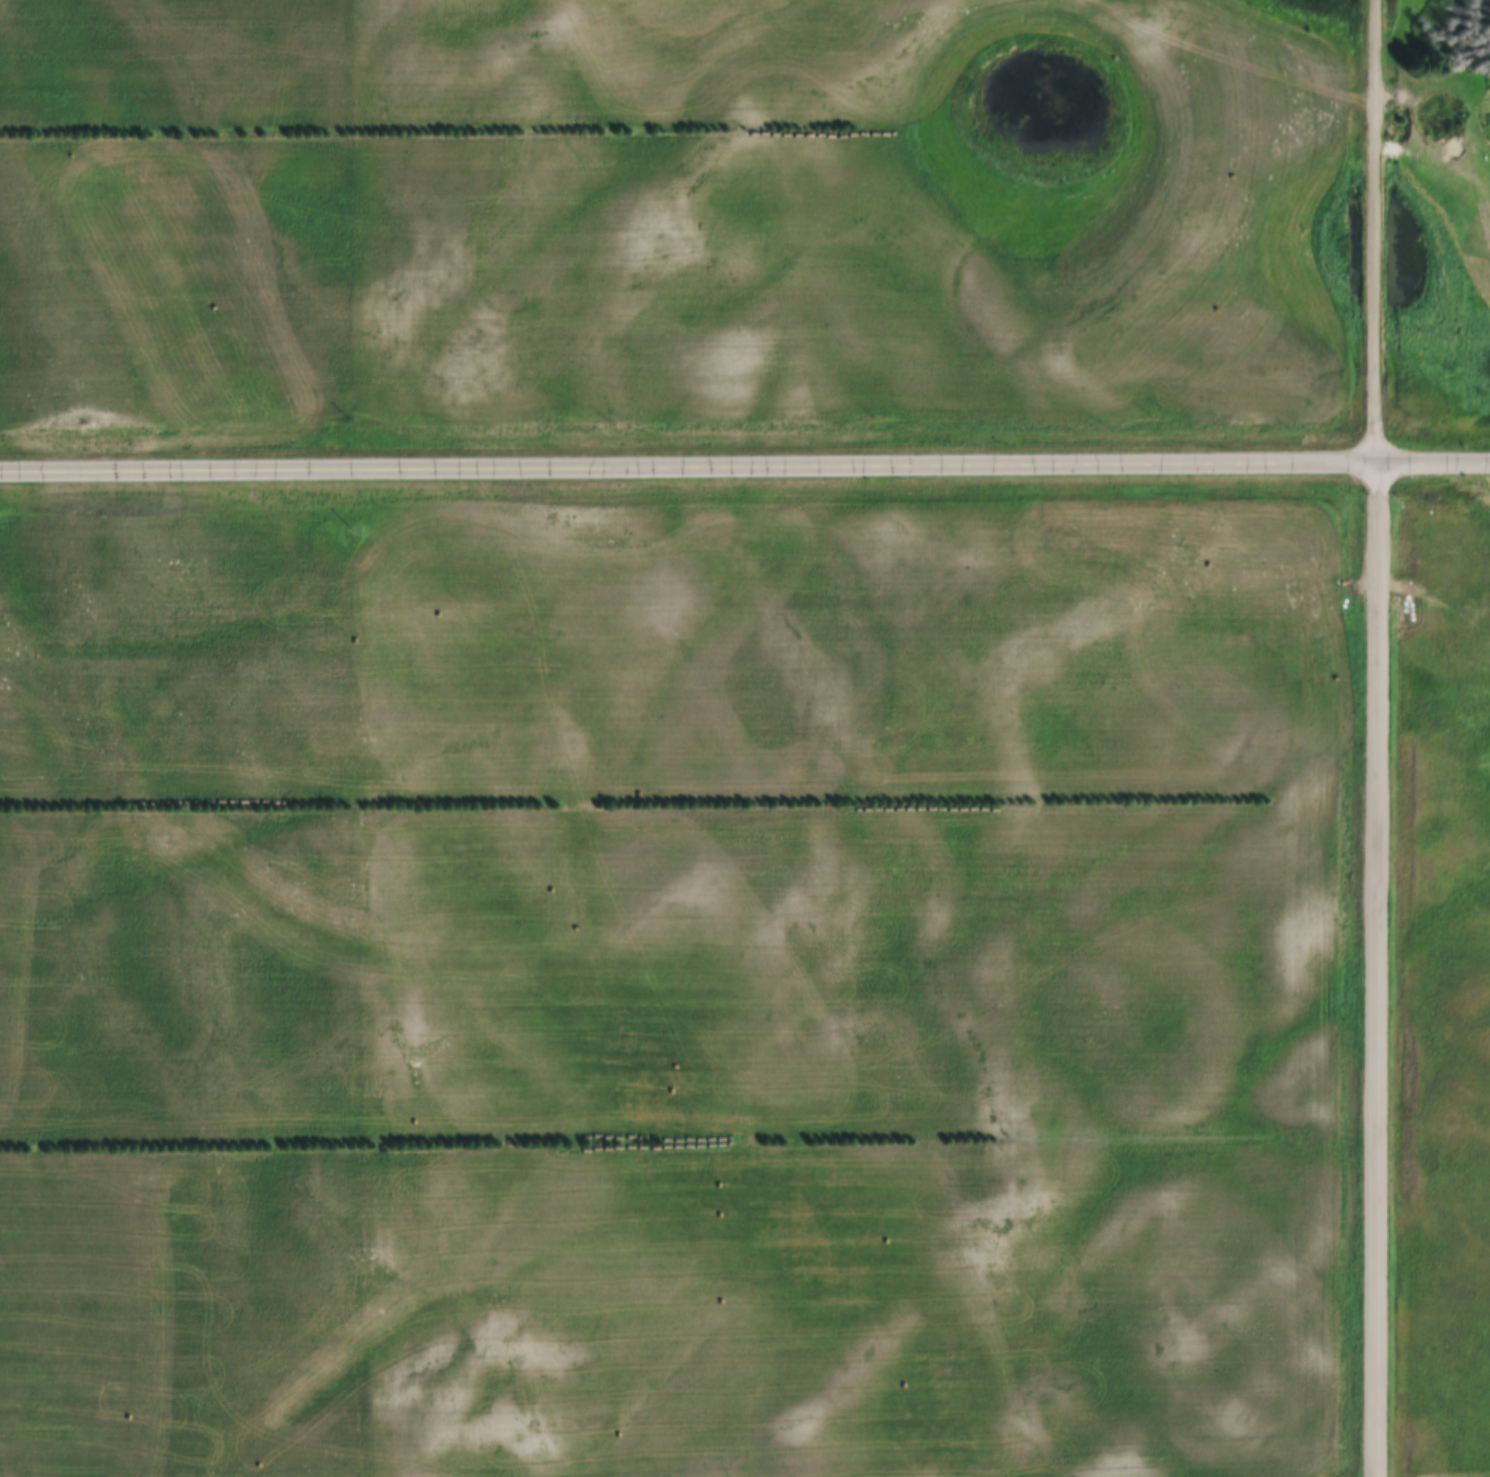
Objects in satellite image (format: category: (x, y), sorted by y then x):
road: (1374, 230)
road: (745, 463)
road: (1378, 968)

